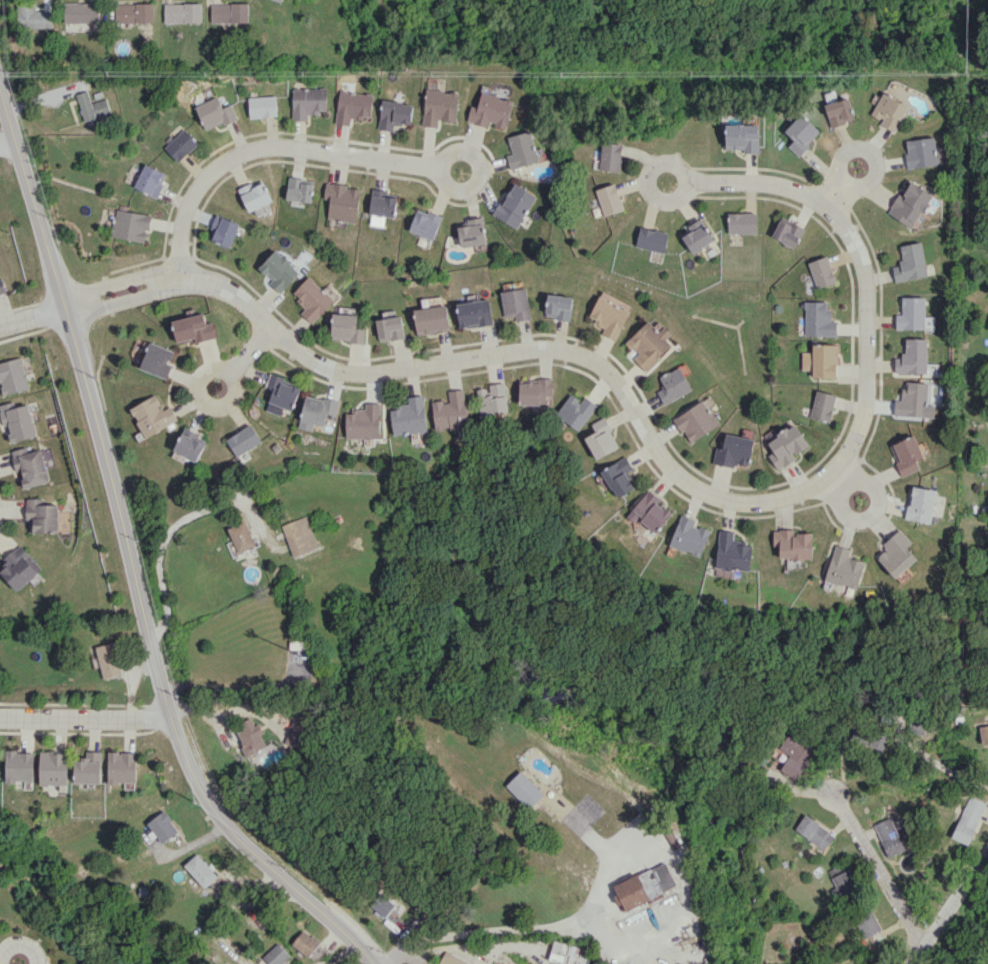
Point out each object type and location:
building: (279, 0)
building: (80, 12)
building: (132, 12)
building: (182, 12)
building: (229, 12)
building: (33, 16)
building: (308, 102)
building: (91, 106)
building: (262, 106)
building: (352, 106)
building: (440, 107)
building: (491, 111)
building: (888, 111)
building: (839, 112)
building: (214, 113)
building: (394, 114)
building: (801, 133)
building: (742, 137)
road: (6, 141)
building: (180, 145)
road: (281, 149)
building: (522, 150)
building: (920, 152)
building: (610, 156)
building: (150, 180)
road: (844, 185)
building: (300, 189)
building: (255, 195)
building: (609, 199)
building: (342, 202)
building: (383, 203)
building: (910, 203)
building: (514, 205)
building: (425, 223)
building: (742, 223)
building: (130, 225)
building: (224, 230)
building: (470, 231)
building: (788, 233)
building: (697, 235)
building: (651, 239)
building: (911, 262)
building: (279, 270)
building: (822, 272)
building: (2, 286)
building: (312, 299)
building: (514, 304)
building: (558, 306)
road: (31, 313)
building: (474, 313)
building: (911, 313)
building: (609, 314)
building: (431, 319)
building: (818, 319)
building: (193, 328)
building: (346, 328)
building: (389, 328)
building: (648, 344)
building: (912, 357)
road: (245, 358)
building: (157, 360)
building: (820, 360)
building: (12, 376)
building: (673, 385)
building: (281, 391)
building: (536, 392)
building: (492, 399)
building: (911, 400)
building: (822, 405)
building: (451, 411)
building: (575, 411)
building: (315, 412)
building: (152, 415)
building: (409, 416)
building: (17, 420)
building: (696, 421)
building: (362, 422)
road: (647, 436)
building: (601, 439)
building: (243, 440)
building: (190, 444)
building: (786, 446)
building: (733, 451)
building: (906, 454)
building: (30, 466)
building: (618, 476)
road: (846, 489)
building: (920, 504)
building: (650, 511)
building: (41, 515)
building: (241, 536)
building: (300, 536)
building: (689, 536)
building: (793, 544)
road: (162, 547)
building: (732, 552)
building: (896, 553)
road: (130, 562)
building: (19, 567)
building: (843, 568)
building: (108, 660)
road: (85, 718)
building: (296, 733)
building: (984, 733)
building: (250, 734)
building: (877, 741)
building: (795, 755)
road: (933, 762)
building: (19, 766)
building: (122, 767)
building: (53, 768)
building: (88, 768)
building: (524, 789)
building: (968, 820)
building: (162, 826)
building: (814, 831)
building: (889, 836)
road: (878, 868)
building: (200, 870)
building: (844, 880)
building: (643, 887)
building: (382, 904)
road: (951, 904)
road: (225, 907)
building: (867, 922)
road: (533, 930)
building: (305, 942)
building: (566, 953)
building: (275, 955)
road: (337, 956)
building: (451, 959)
road: (17, 963)

